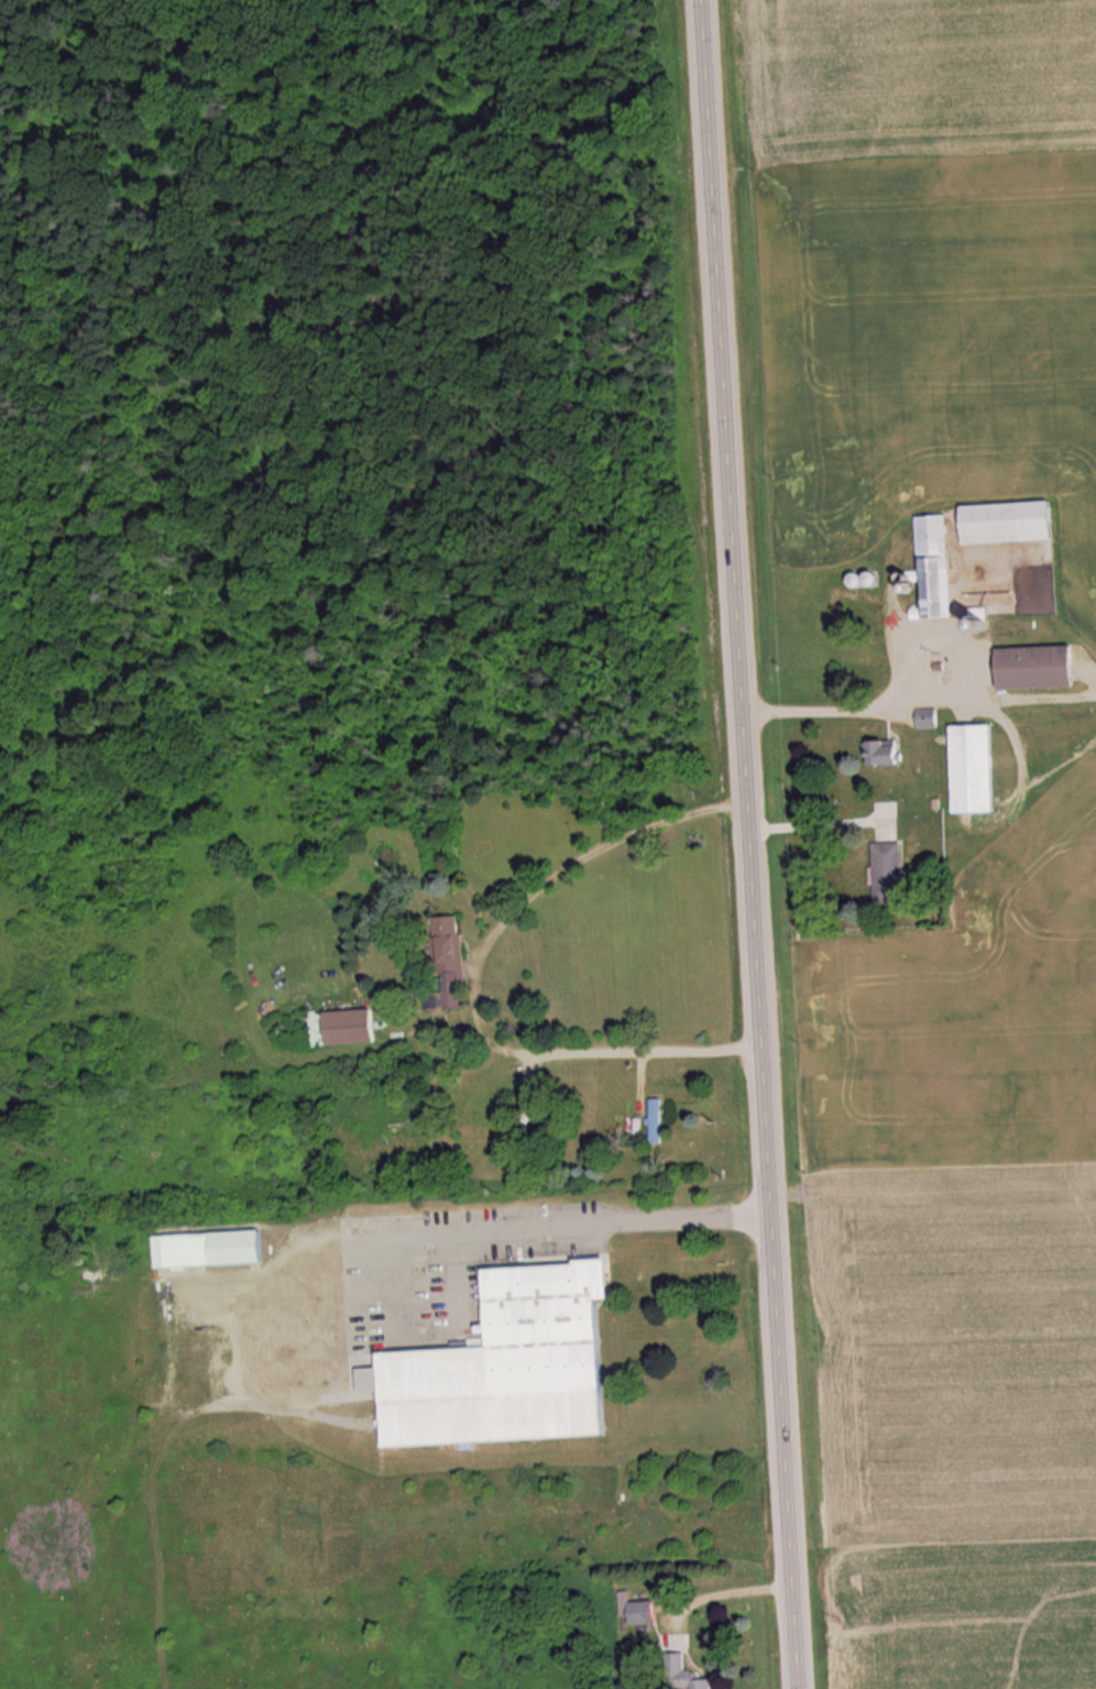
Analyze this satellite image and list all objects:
building: (1012, 524)
building: (939, 569)
building: (861, 580)
building: (1043, 669)
building: (930, 719)
building: (890, 755)
building: (979, 771)
road: (747, 844)
building: (891, 870)
building: (451, 943)
building: (346, 1028)
building: (535, 1120)
building: (659, 1121)
building: (211, 1250)
building: (514, 1368)
building: (640, 1611)
building: (706, 1685)

